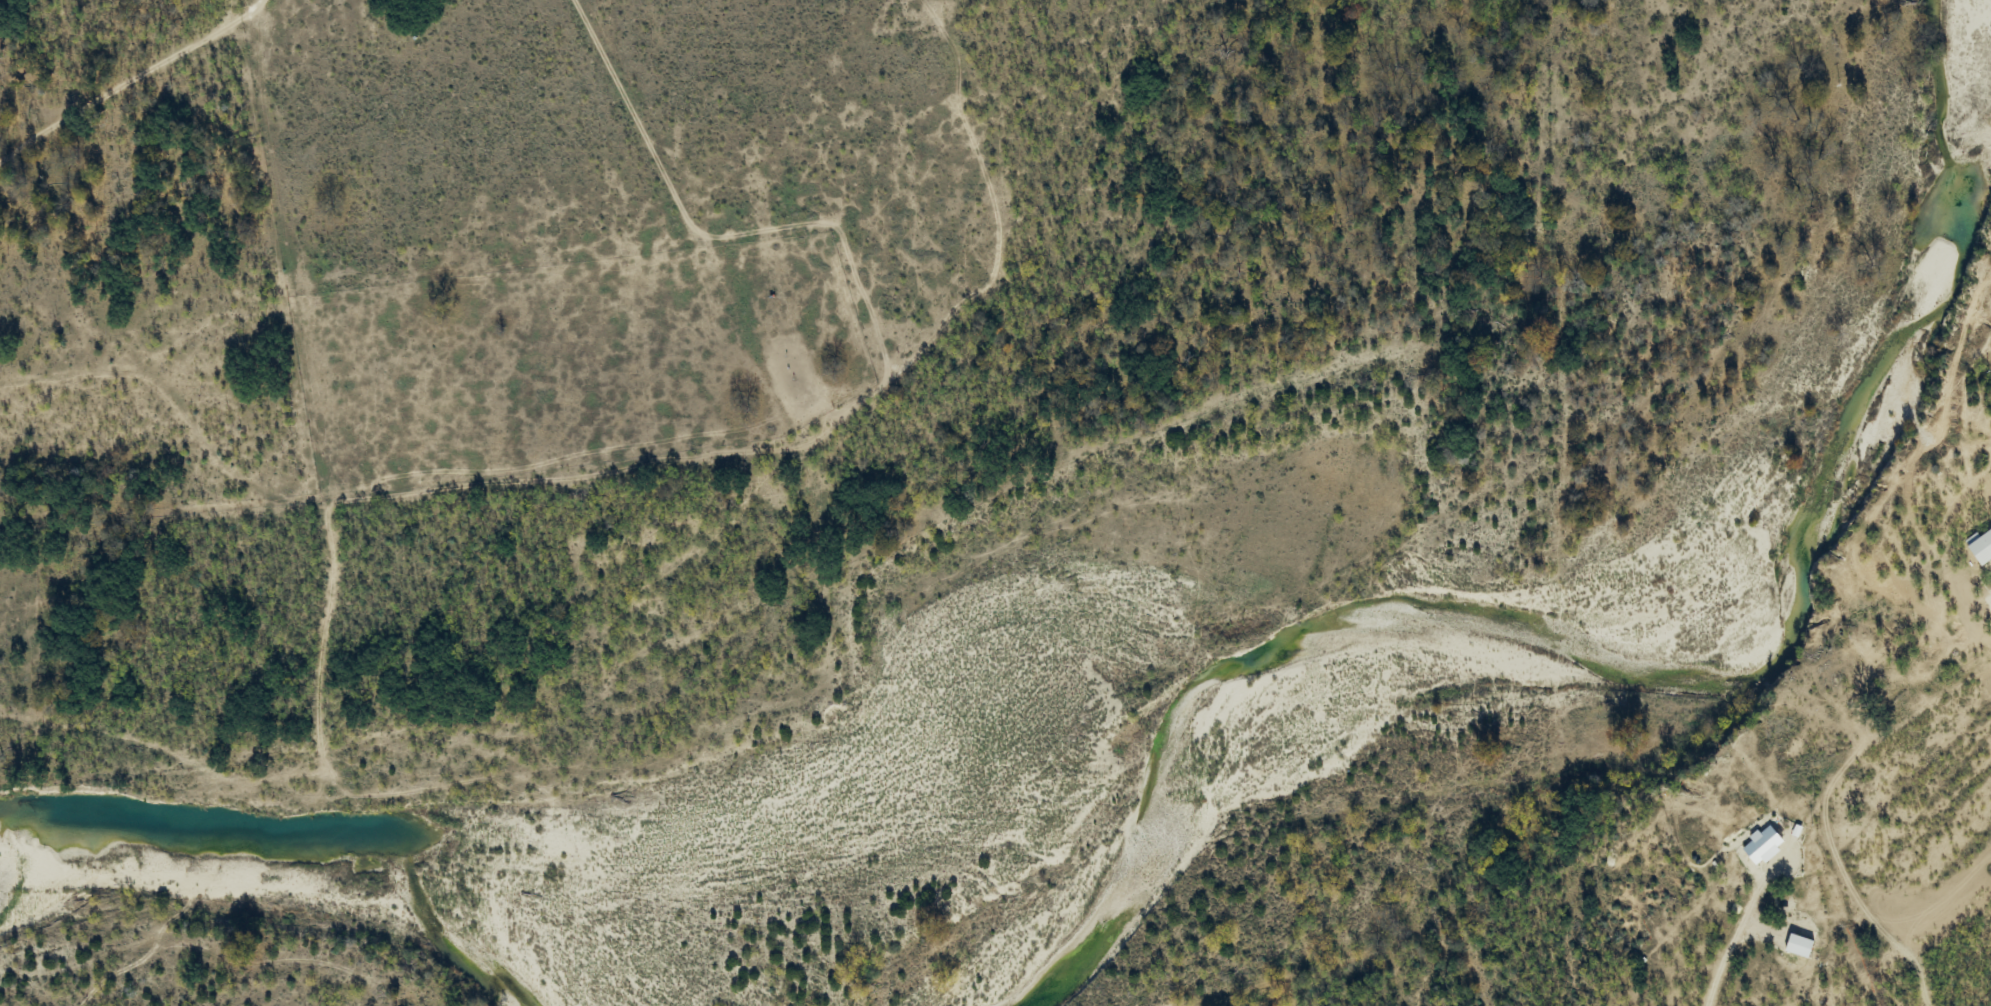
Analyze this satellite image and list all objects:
building: (1983, 541)
river: (1664, 649)
road: (1801, 825)
river: (322, 856)
building: (1799, 946)

